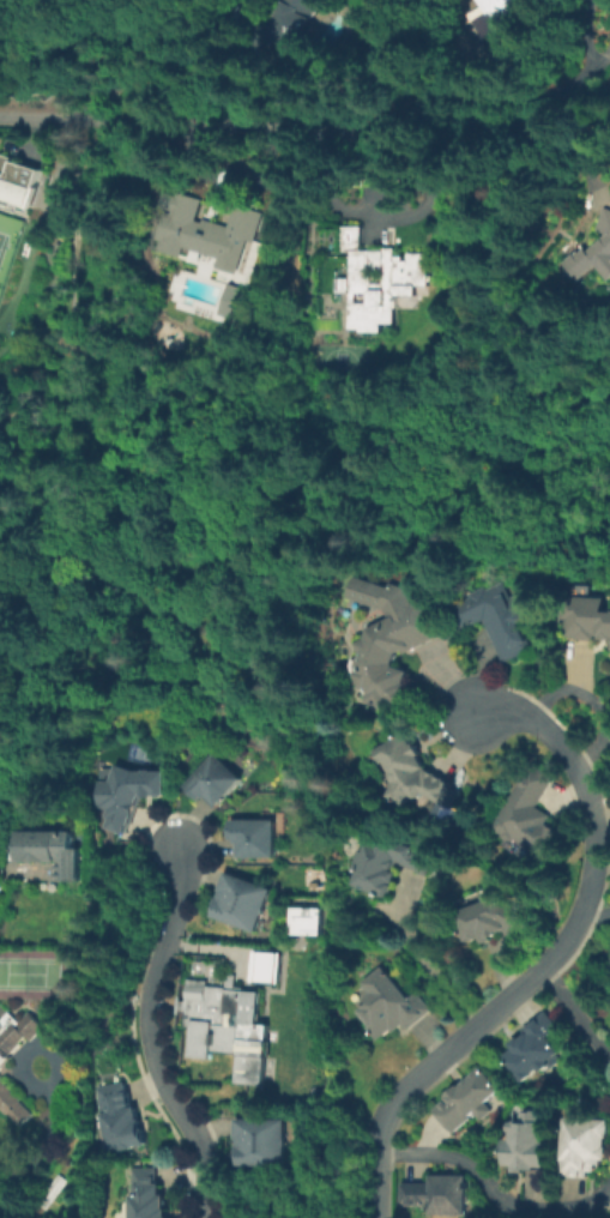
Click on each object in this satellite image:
building: (503, 19)
building: (292, 23)
road: (203, 125)
road: (26, 140)
building: (19, 180)
building: (606, 222)
building: (212, 229)
building: (592, 259)
building: (388, 279)
building: (240, 301)
building: (237, 334)
building: (503, 615)
building: (587, 615)
building: (397, 637)
road: (598, 699)
building: (421, 772)
building: (217, 783)
building: (132, 795)
building: (534, 816)
building: (259, 839)
building: (56, 854)
building: (386, 862)
building: (0, 864)
road: (179, 868)
building: (246, 904)
building: (494, 918)
building: (306, 919)
road: (164, 946)
road: (422, 959)
road: (554, 959)
building: (262, 965)
park: (29, 971)
street lamp: (135, 999)
building: (389, 1003)
road: (576, 1011)
building: (222, 1012)
building: (534, 1048)
building: (5, 1062)
building: (467, 1099)
road: (181, 1111)
building: (123, 1120)
building: (266, 1145)
building: (590, 1145)
building: (533, 1146)
road: (493, 1186)
building: (439, 1193)
building: (150, 1195)

